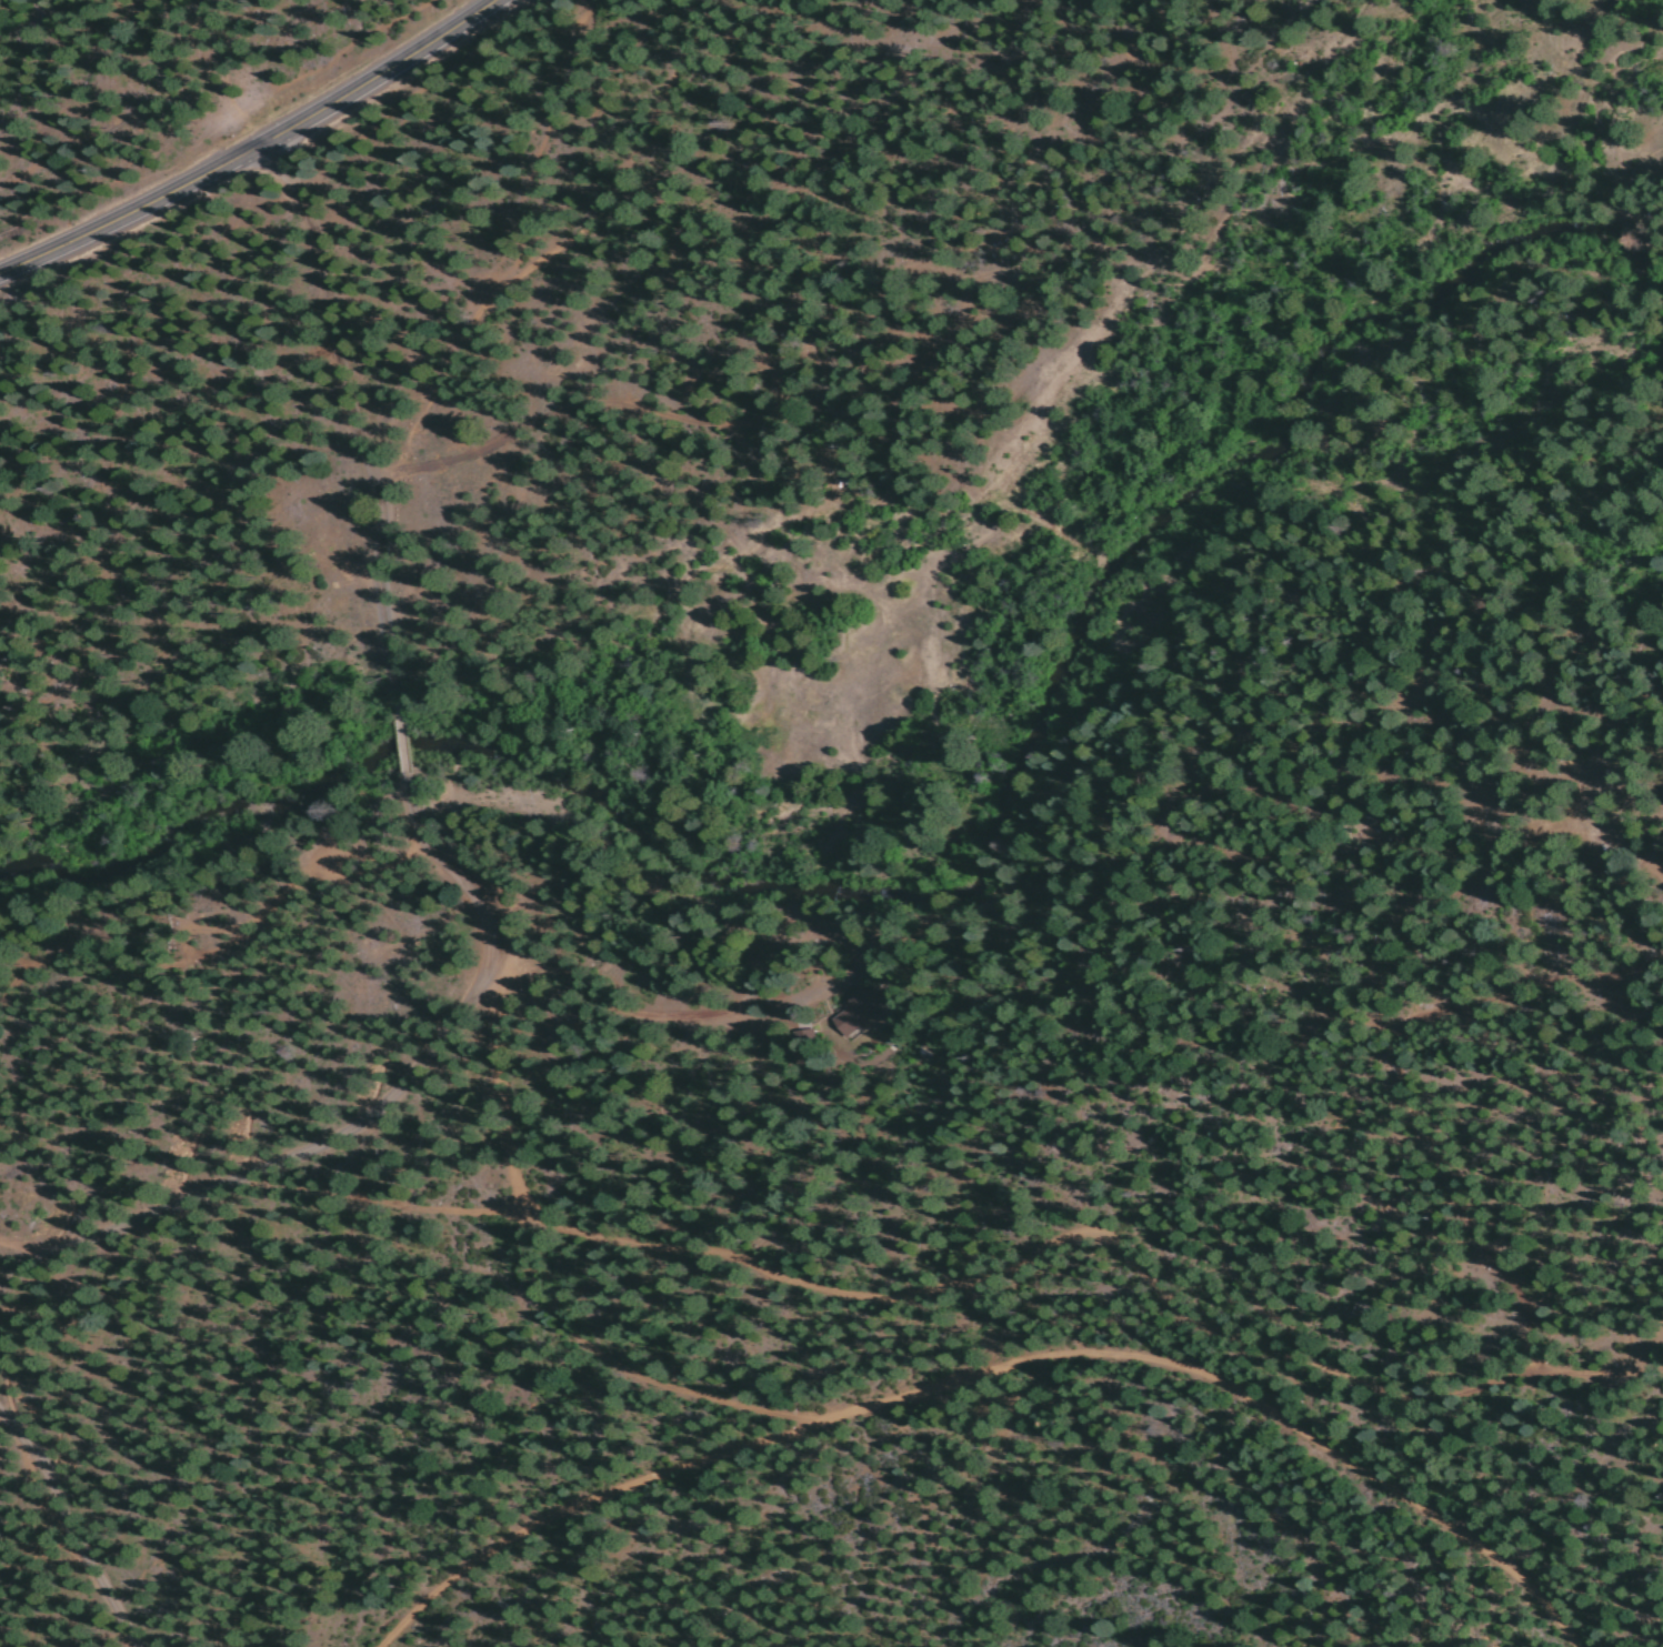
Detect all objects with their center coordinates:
road: (545, 129)
road: (258, 147)
road: (353, 424)
road: (403, 746)
road: (461, 884)
road: (502, 1108)
road: (260, 1172)
road: (991, 1312)
road: (988, 1368)
road: (44, 1546)

